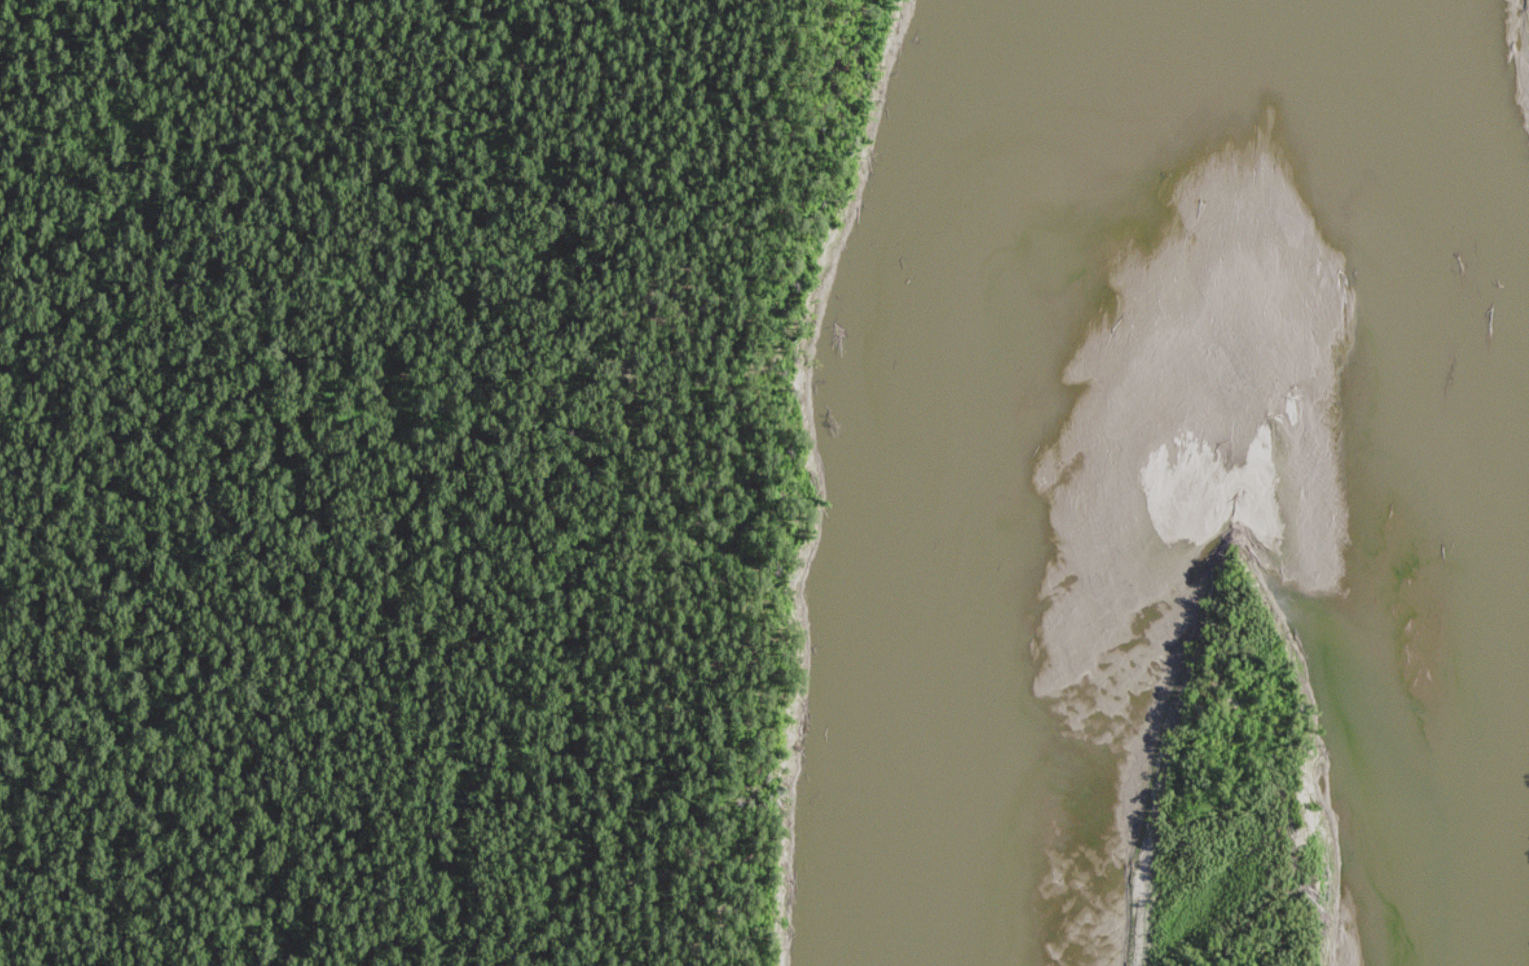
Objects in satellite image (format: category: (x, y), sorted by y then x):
river: (1066, 482)

